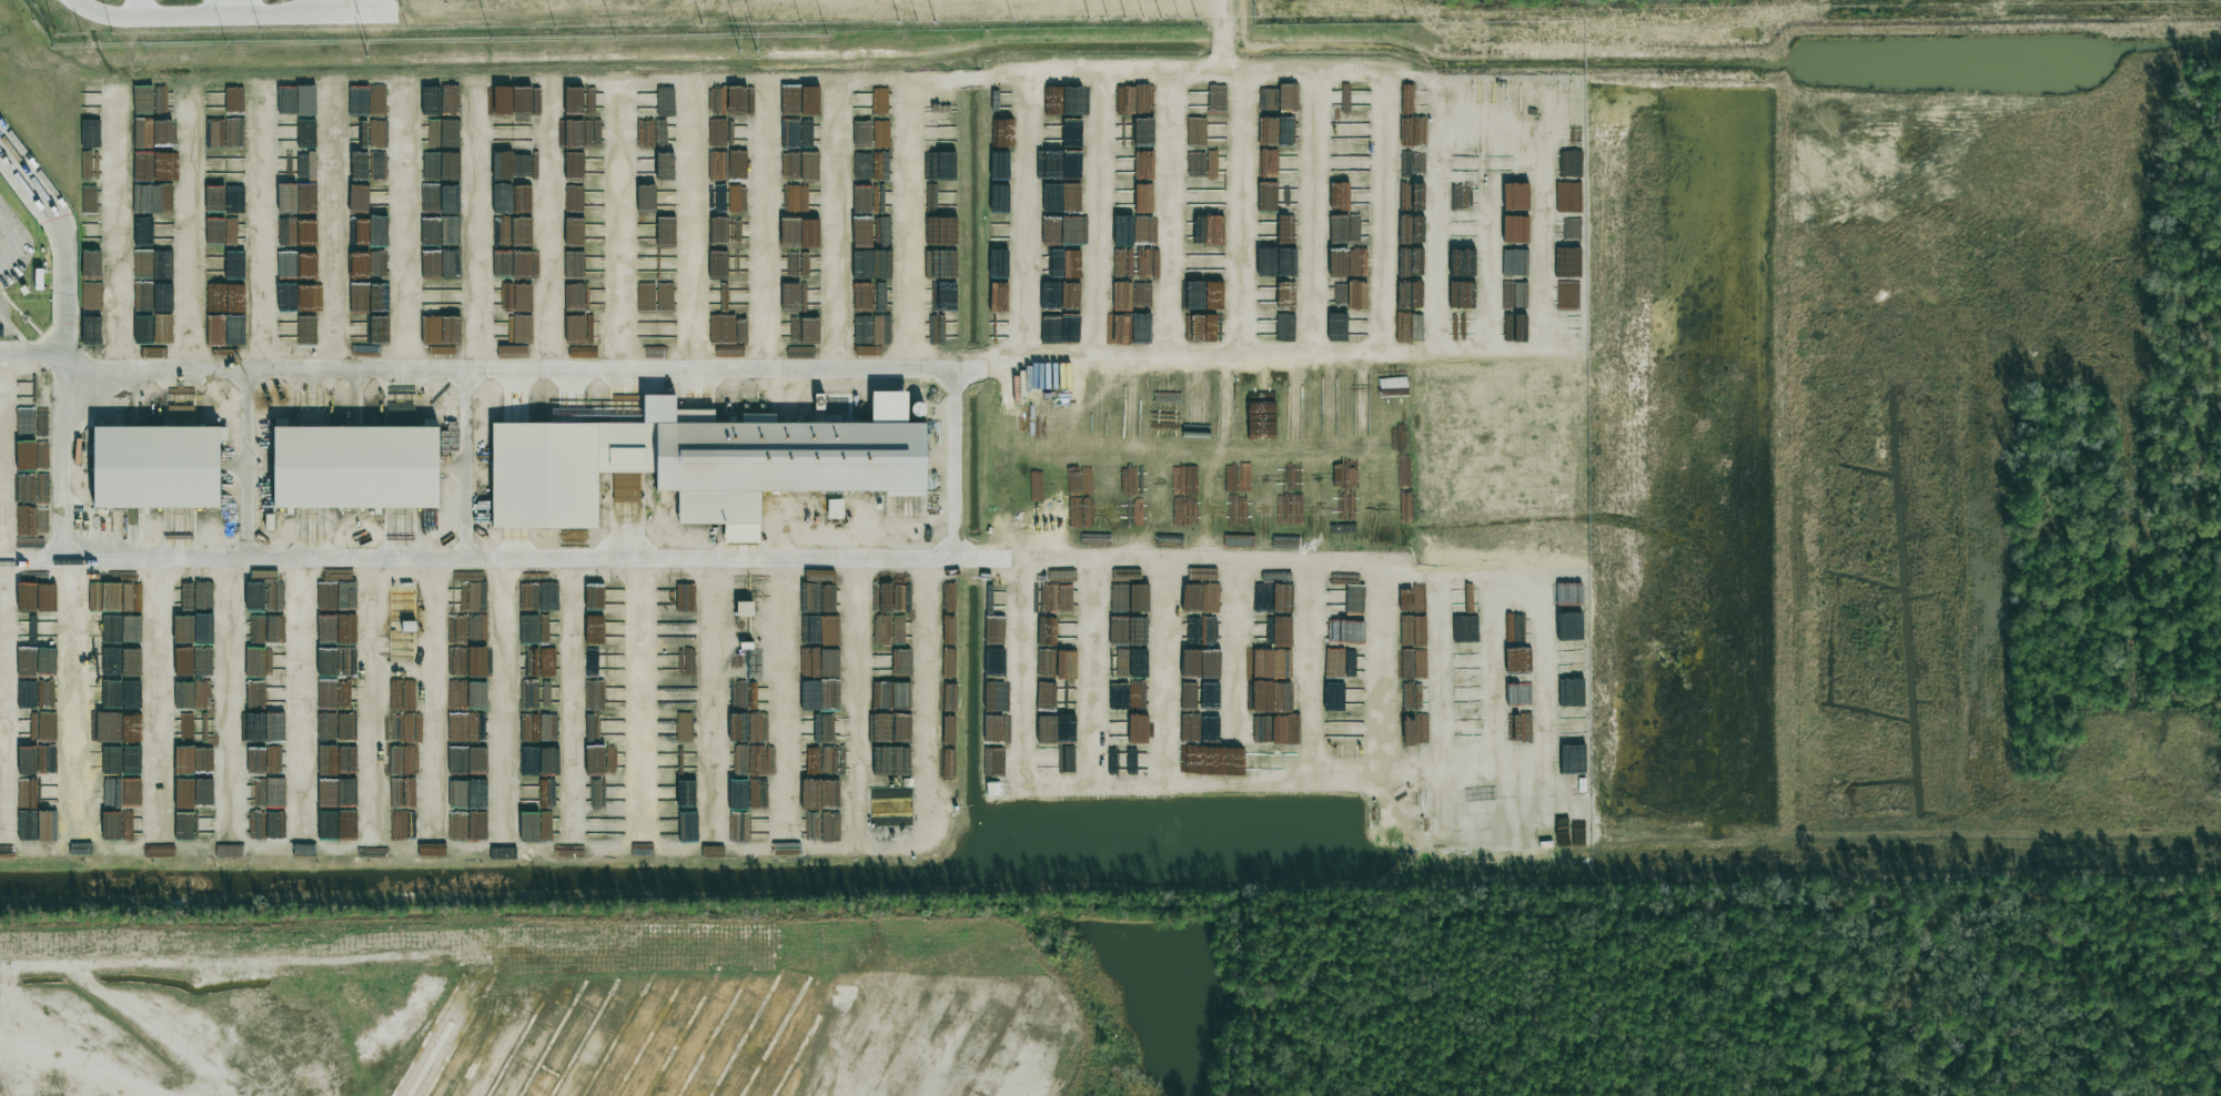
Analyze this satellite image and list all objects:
road: (201, 14)
road: (1223, 37)
road: (1385, 185)
road: (7, 229)
road: (8, 248)
road: (63, 264)
building: (571, 408)
road: (64, 461)
building: (699, 463)
building: (353, 464)
building: (157, 466)
road: (957, 484)
building: (835, 508)
road: (212, 964)
road: (9, 995)

